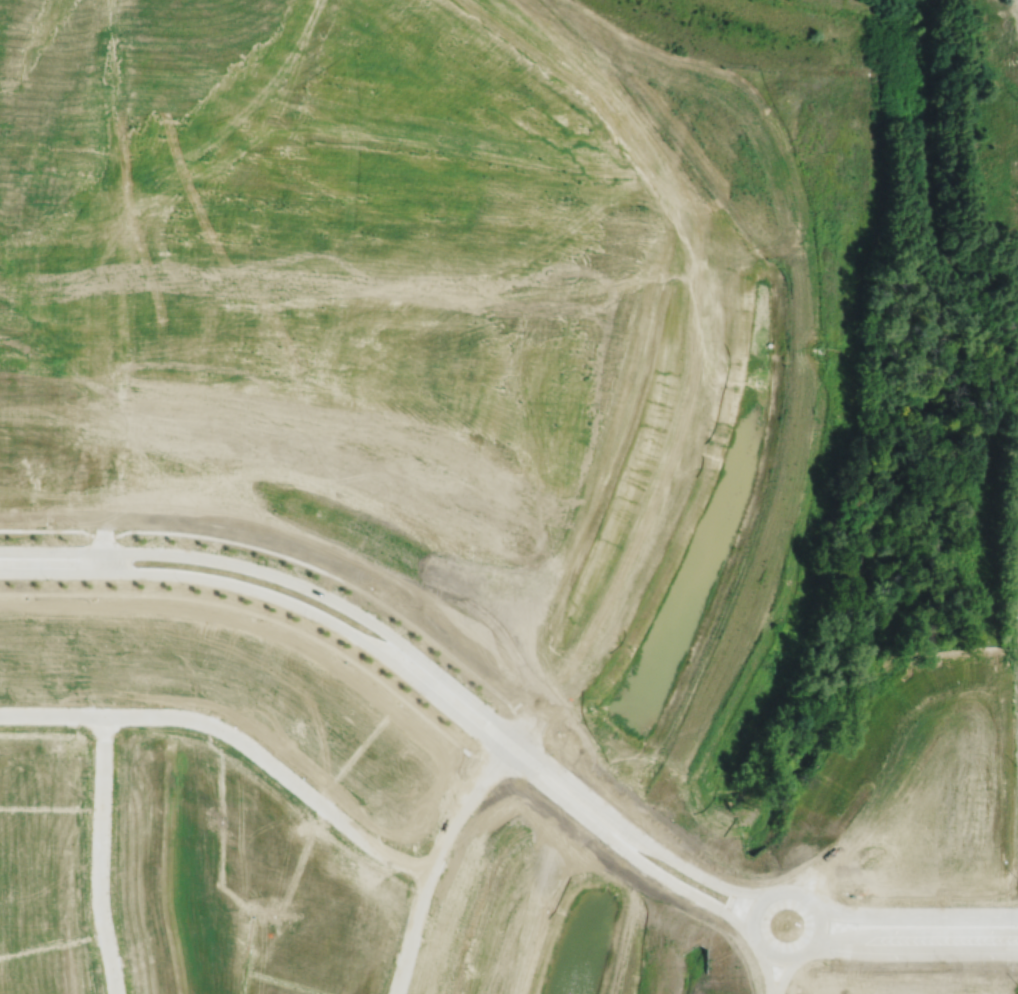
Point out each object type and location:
road: (110, 544)
road: (416, 653)
road: (410, 676)
road: (235, 734)
road: (446, 835)
road: (102, 854)
road: (913, 919)
road: (811, 945)
road: (835, 949)
road: (939, 949)
road: (765, 968)
road: (786, 973)

